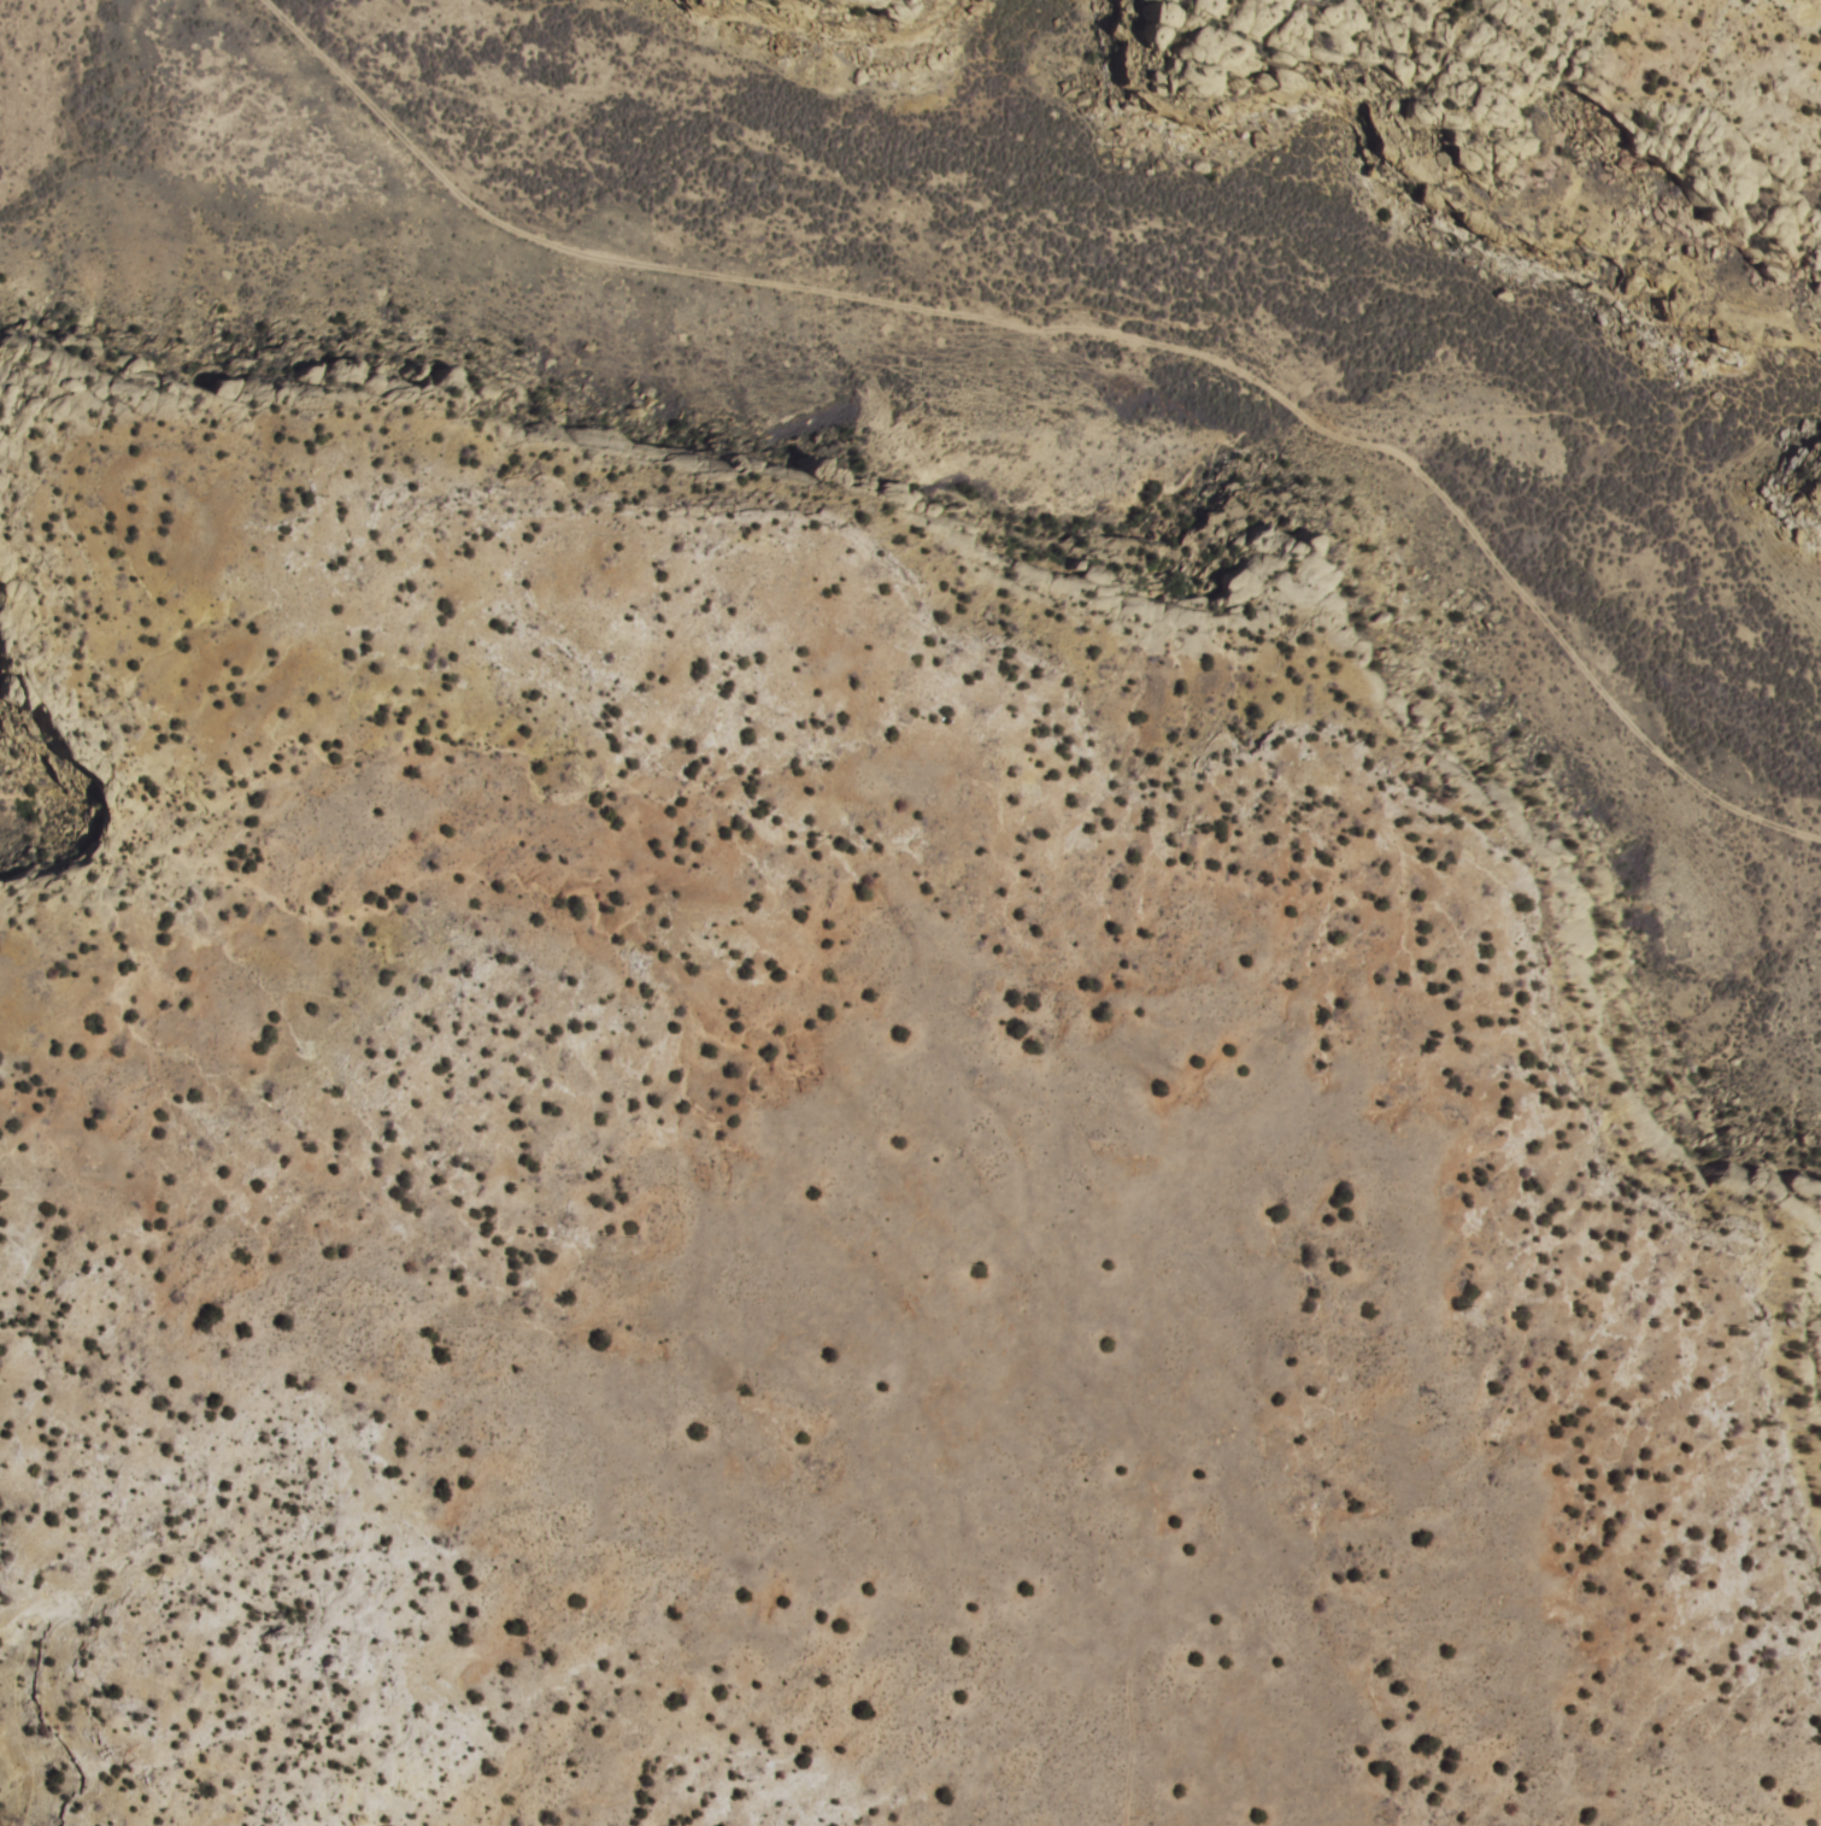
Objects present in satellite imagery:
river: (70, 39)
river: (1093, 322)
road: (1058, 372)

